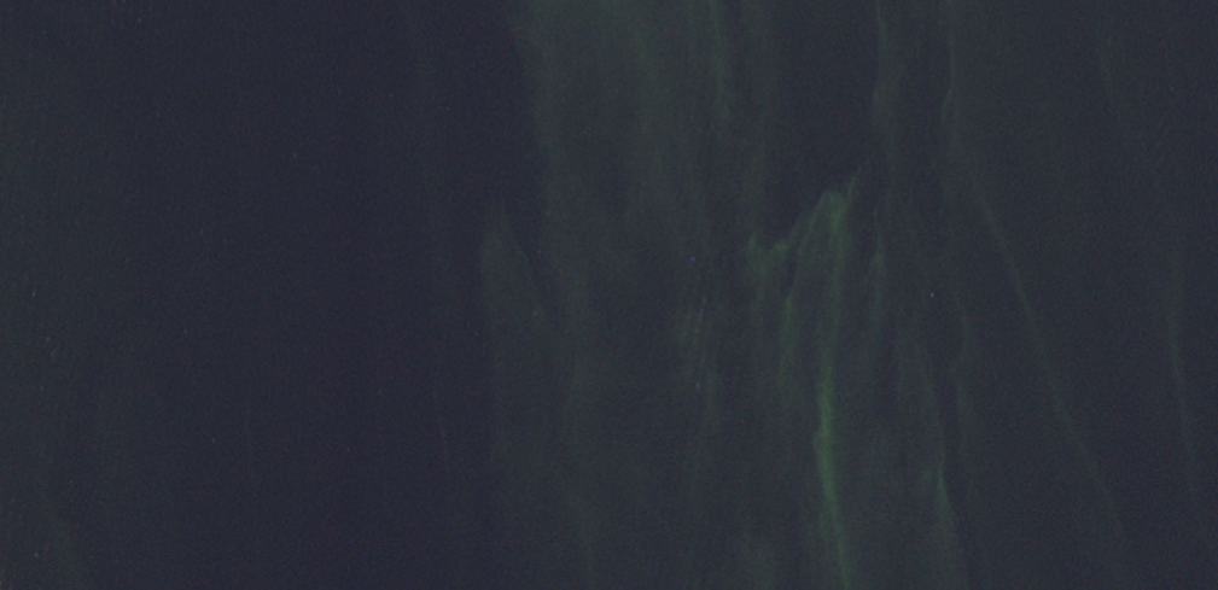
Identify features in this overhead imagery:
river: (579, 294)

